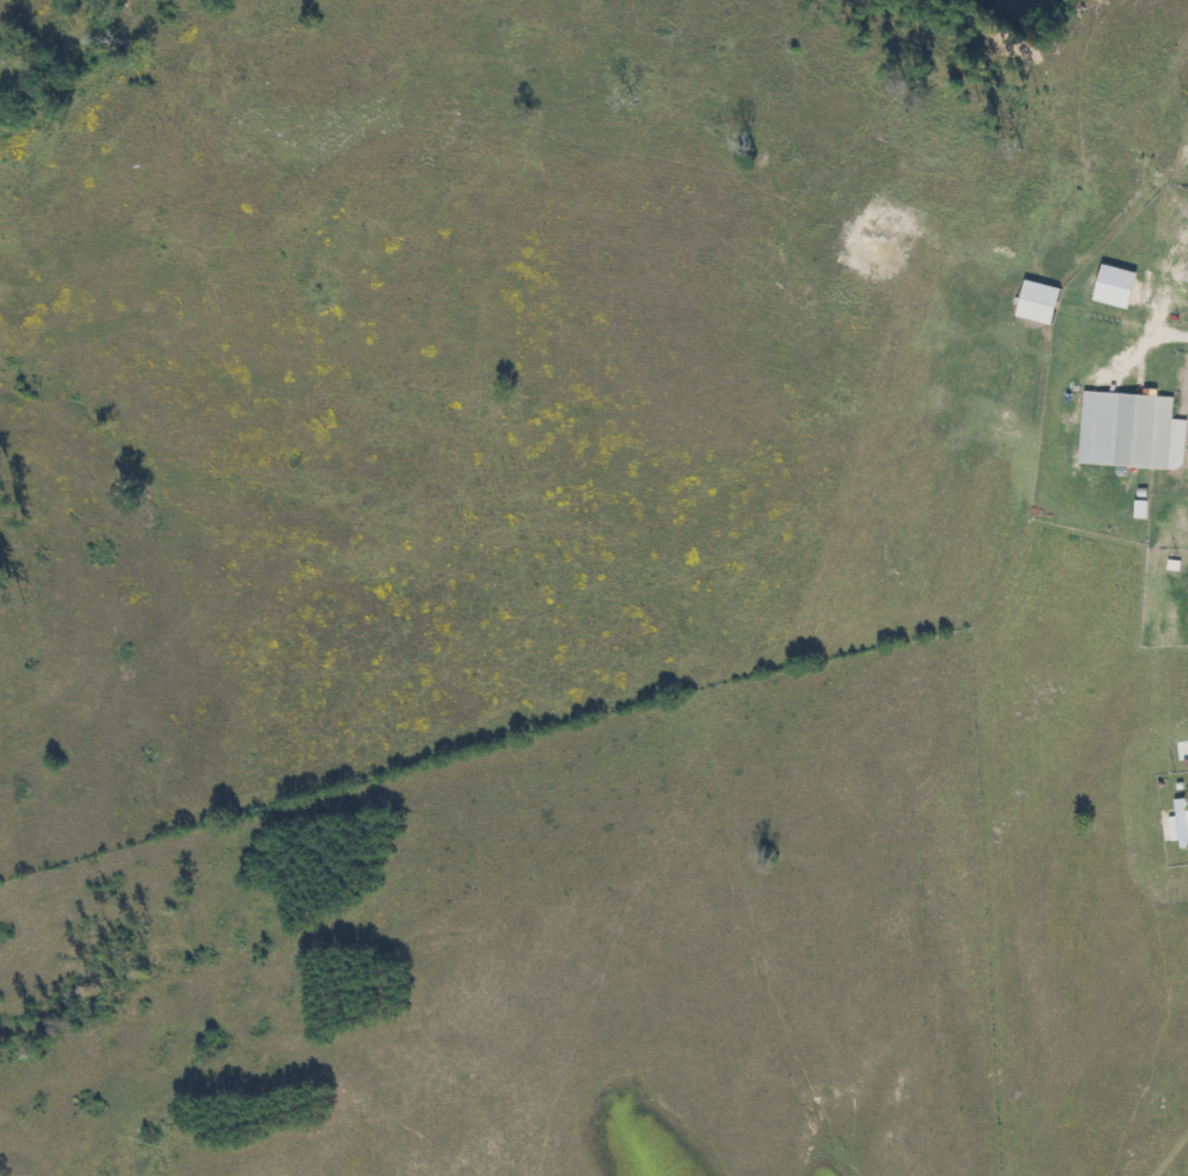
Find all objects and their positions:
building: (1038, 302)
building: (1124, 428)
building: (1175, 822)

